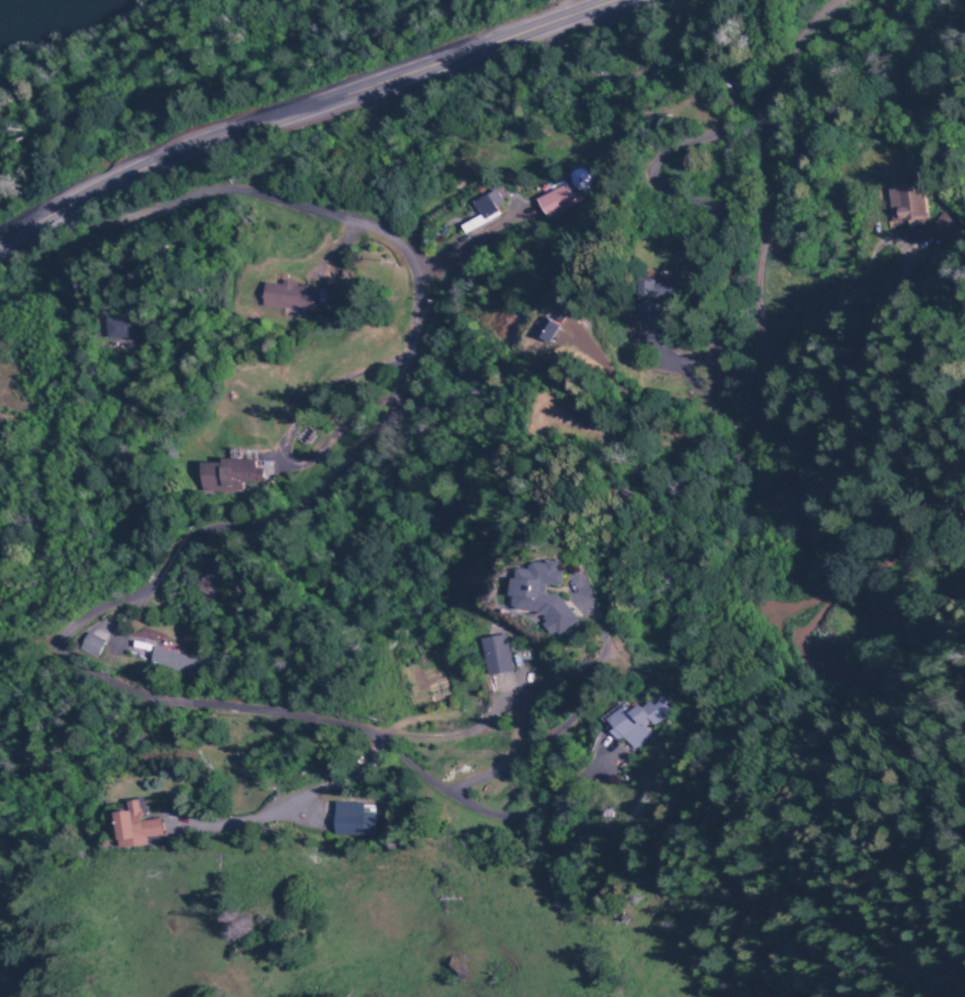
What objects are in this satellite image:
road: (318, 118)
building: (580, 178)
building: (557, 205)
building: (909, 208)
road: (120, 220)
building: (480, 220)
building: (944, 230)
building: (652, 296)
building: (288, 302)
building: (123, 328)
building: (545, 328)
building: (226, 478)
building: (209, 576)
building: (543, 603)
road: (122, 617)
building: (499, 658)
building: (171, 662)
building: (637, 721)
building: (352, 819)
building: (135, 826)

